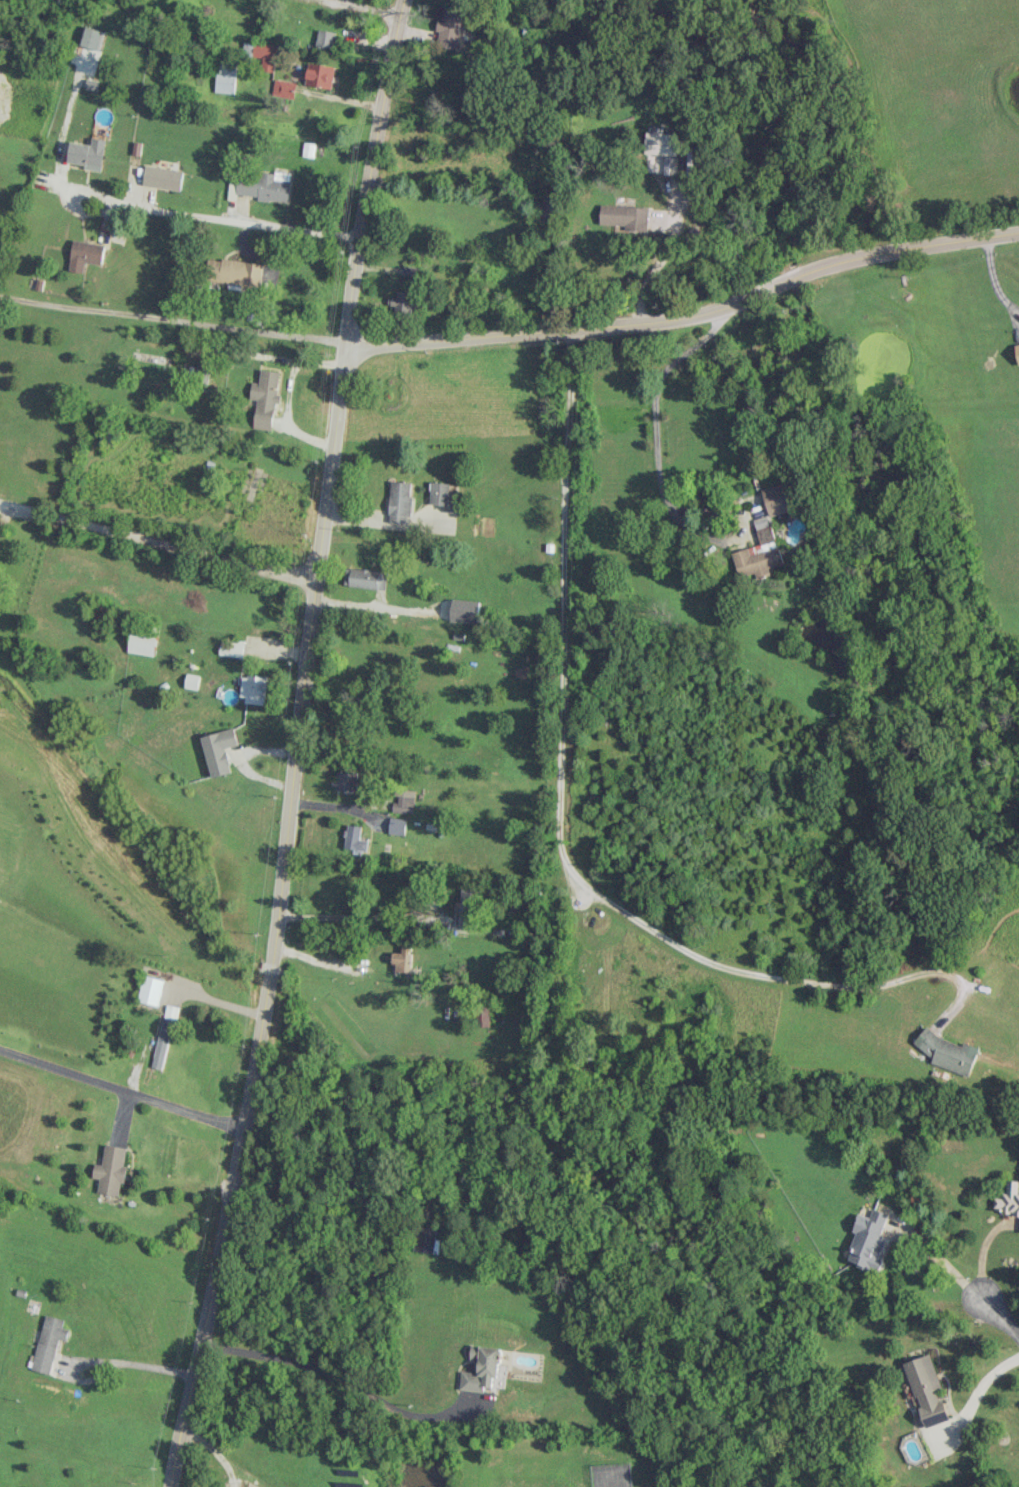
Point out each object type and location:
building: (449, 29)
building: (94, 38)
building: (325, 38)
building: (263, 54)
building: (319, 75)
building: (226, 77)
building: (283, 88)
road: (70, 122)
building: (662, 143)
building: (89, 154)
building: (163, 178)
building: (261, 186)
road: (175, 214)
building: (624, 217)
building: (86, 255)
road: (652, 269)
building: (236, 272)
road: (995, 282)
road: (514, 335)
building: (1017, 350)
road: (286, 395)
building: (264, 398)
road: (656, 427)
building: (442, 496)
building: (778, 499)
building: (400, 500)
road: (158, 542)
building: (758, 556)
building: (365, 578)
building: (464, 610)
building: (143, 643)
building: (233, 648)
building: (192, 681)
building: (254, 689)
road: (297, 745)
building: (219, 751)
building: (346, 781)
building: (403, 801)
road: (556, 819)
building: (396, 826)
building: (354, 839)
building: (465, 906)
road: (362, 914)
road: (320, 960)
building: (401, 960)
building: (149, 990)
road: (215, 1000)
building: (162, 1037)
building: (947, 1052)
road: (120, 1087)
building: (110, 1169)
building: (1008, 1199)
building: (865, 1239)
building: (425, 1240)
road: (983, 1254)
road: (946, 1267)
road: (1003, 1322)
building: (48, 1343)
road: (100, 1361)
building: (480, 1369)
road: (338, 1383)
road: (981, 1383)
building: (925, 1389)
road: (216, 1449)

